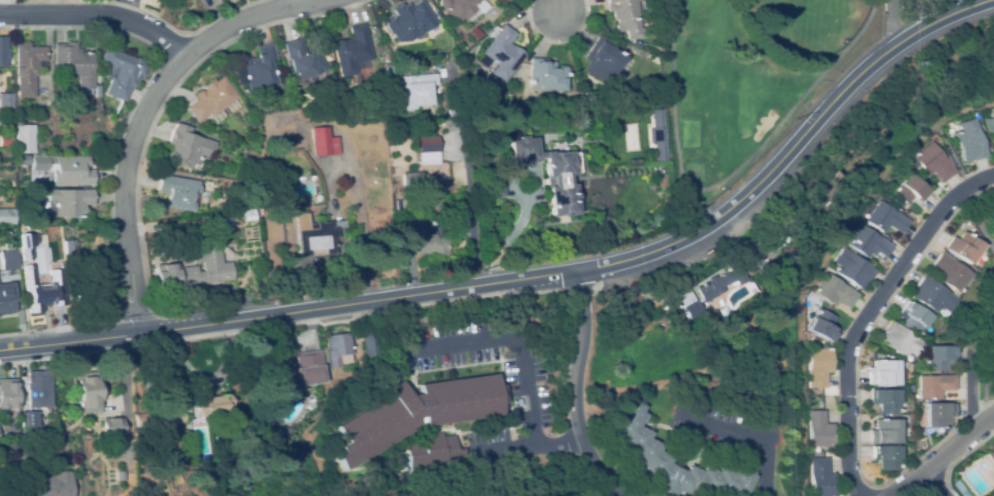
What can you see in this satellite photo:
road: (296, 1)
road: (560, 7)
road: (133, 8)
building: (461, 8)
road: (98, 15)
building: (625, 17)
building: (410, 22)
road: (893, 23)
building: (352, 51)
building: (3, 52)
building: (502, 53)
building: (302, 60)
building: (603, 60)
building: (75, 63)
building: (27, 67)
building: (256, 70)
building: (389, 71)
building: (122, 73)
building: (547, 75)
park: (748, 77)
building: (348, 80)
building: (97, 85)
building: (418, 91)
building: (211, 99)
building: (6, 100)
building: (58, 100)
building: (59, 111)
building: (450, 112)
building: (441, 113)
road: (139, 119)
building: (989, 125)
building: (657, 135)
building: (25, 139)
building: (6, 141)
building: (971, 141)
building: (321, 142)
building: (844, 142)
building: (186, 147)
building: (426, 151)
building: (2, 153)
building: (935, 162)
building: (64, 169)
building: (550, 173)
building: (414, 178)
building: (492, 187)
building: (822, 188)
building: (911, 189)
building: (177, 193)
building: (70, 202)
building: (992, 203)
building: (247, 212)
building: (993, 215)
building: (8, 217)
building: (888, 218)
building: (310, 236)
building: (770, 238)
building: (421, 240)
building: (26, 241)
building: (871, 243)
building: (69, 247)
building: (965, 247)
building: (9, 260)
road: (606, 262)
building: (855, 268)
building: (203, 269)
building: (952, 272)
building: (721, 281)
building: (43, 288)
building: (837, 291)
building: (98, 293)
building: (934, 296)
building: (7, 298)
building: (689, 309)
road: (868, 312)
building: (411, 317)
building: (914, 317)
building: (825, 325)
building: (819, 340)
road: (70, 341)
building: (903, 342)
building: (366, 343)
building: (333, 348)
building: (940, 357)
building: (820, 366)
road: (526, 370)
building: (295, 371)
building: (884, 372)
building: (934, 386)
building: (37, 389)
road: (574, 389)
road: (976, 390)
building: (88, 392)
building: (8, 394)
building: (750, 395)
building: (886, 401)
building: (207, 404)
building: (417, 413)
building: (938, 415)
building: (168, 417)
building: (151, 418)
building: (29, 419)
building: (111, 422)
building: (819, 429)
building: (282, 430)
building: (885, 431)
road: (757, 432)
building: (152, 433)
building: (639, 442)
road: (560, 443)
building: (432, 453)
building: (991, 455)
building: (886, 457)
road: (945, 459)
building: (821, 478)
building: (57, 484)
road: (936, 485)
building: (16, 490)

